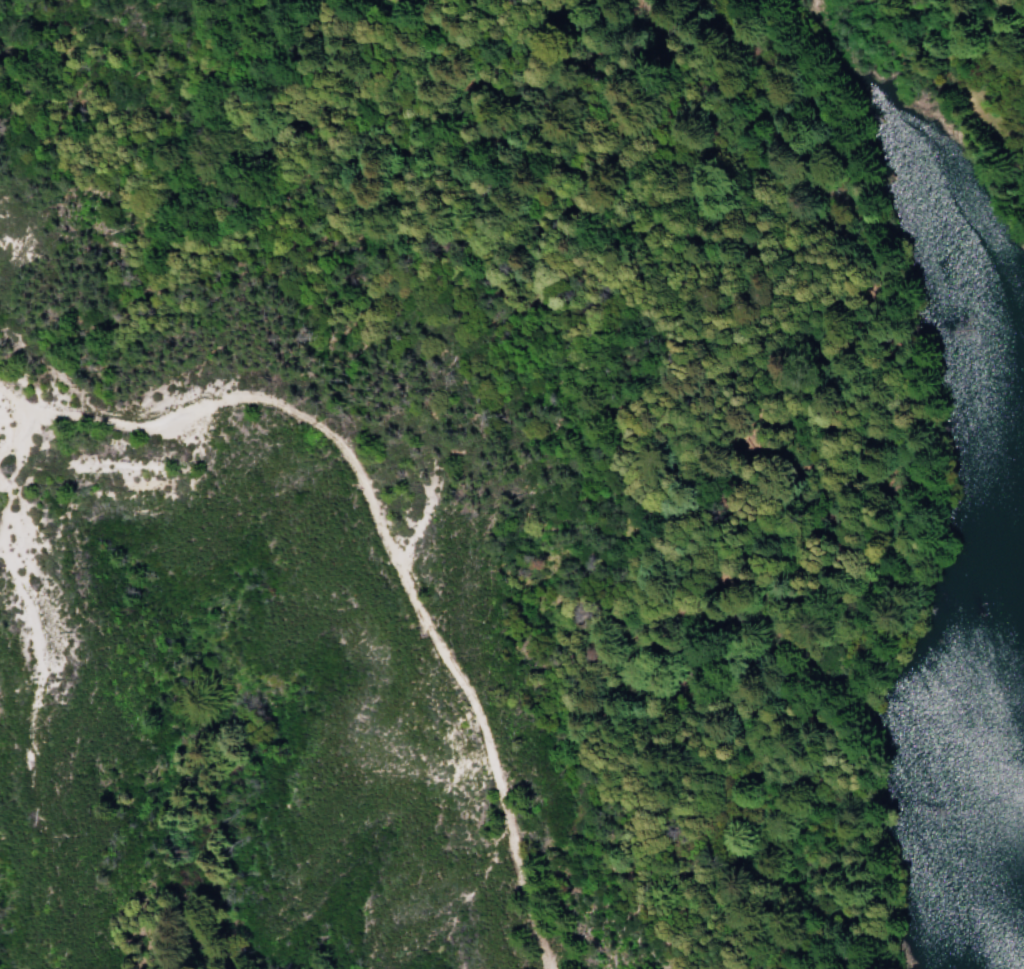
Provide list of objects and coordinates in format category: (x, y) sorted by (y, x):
road: (1007, 63)
building: (3, 416)
road: (420, 515)
road: (385, 532)
road: (39, 687)

